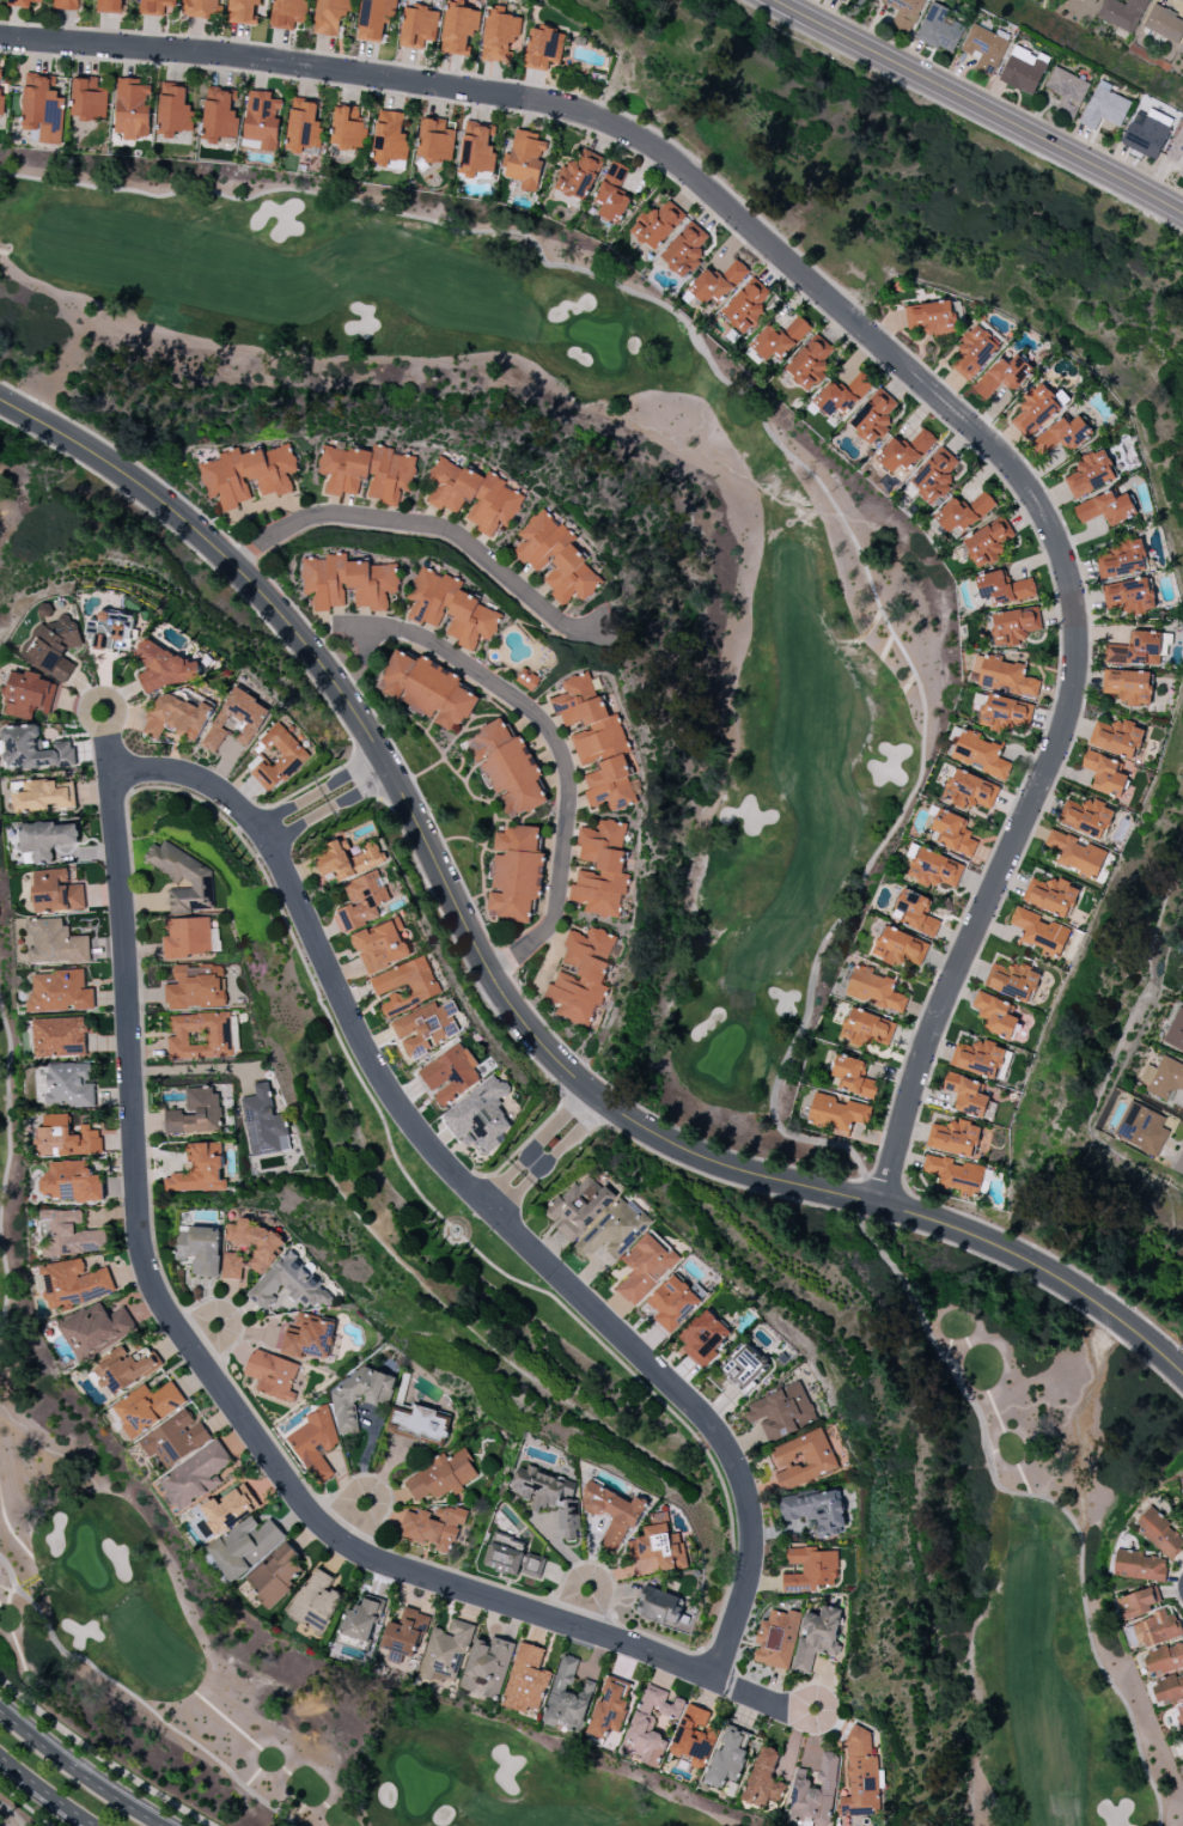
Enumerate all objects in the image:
building: (1094, 0)
building: (22, 2)
building: (66, 4)
building: (109, 6)
building: (158, 7)
building: (200, 7)
building: (243, 11)
building: (905, 11)
building: (288, 13)
building: (1122, 13)
building: (330, 16)
building: (374, 18)
building: (1164, 24)
building: (419, 25)
building: (458, 28)
building: (939, 29)
building: (500, 36)
building: (543, 48)
building: (1182, 53)
building: (1024, 69)
building: (1067, 91)
building: (1, 98)
building: (89, 98)
road: (980, 105)
building: (1105, 106)
building: (132, 108)
building: (43, 109)
building: (173, 110)
building: (219, 114)
building: (262, 118)
building: (303, 126)
building: (348, 128)
building: (1147, 133)
building: (389, 136)
building: (435, 140)
building: (476, 148)
building: (1177, 151)
building: (525, 159)
building: (579, 175)
building: (612, 194)
building: (657, 225)
building: (684, 249)
building: (718, 282)
building: (746, 305)
building: (932, 317)
building: (780, 339)
road: (878, 347)
building: (974, 352)
building: (810, 363)
building: (1004, 376)
building: (842, 394)
building: (1036, 410)
building: (876, 416)
building: (1062, 434)
building: (905, 451)
building: (270, 469)
building: (367, 473)
building: (1090, 474)
building: (937, 475)
building: (225, 480)
building: (474, 495)
building: (1106, 509)
building: (964, 512)
road: (428, 525)
building: (542, 541)
building: (988, 542)
building: (1122, 560)
building: (572, 577)
building: (325, 582)
building: (373, 584)
building: (1004, 588)
building: (1128, 595)
park: (846, 596)
building: (432, 597)
building: (472, 621)
building: (1013, 625)
building: (110, 632)
building: (54, 646)
road: (367, 646)
building: (1136, 650)
building: (160, 668)
building: (1004, 676)
building: (528, 678)
building: (1128, 686)
building: (427, 689)
building: (30, 694)
building: (1005, 713)
building: (176, 717)
building: (236, 719)
building: (589, 719)
building: (1117, 737)
road: (560, 747)
building: (32, 749)
building: (980, 755)
building: (276, 757)
building: (506, 767)
building: (1104, 774)
road: (354, 781)
building: (610, 784)
building: (970, 790)
building: (44, 796)
road: (293, 816)
building: (1086, 816)
building: (952, 833)
building: (47, 839)
building: (1075, 853)
building: (348, 862)
building: (602, 869)
building: (935, 869)
building: (514, 874)
building: (183, 877)
building: (56, 891)
building: (1050, 895)
building: (364, 900)
building: (916, 912)
building: (1039, 932)
building: (187, 937)
building: (55, 942)
building: (382, 945)
building: (900, 948)
park: (22, 973)
building: (583, 975)
building: (1013, 981)
building: (196, 987)
building: (422, 987)
building: (876, 990)
building: (59, 991)
road: (502, 996)
building: (995, 1015)
building: (425, 1028)
building: (867, 1028)
building: (1175, 1031)
building: (200, 1035)
building: (59, 1036)
building: (978, 1058)
road: (185, 1070)
building: (450, 1075)
building: (854, 1076)
building: (1163, 1078)
building: (69, 1084)
building: (969, 1095)
building: (196, 1113)
building: (836, 1113)
building: (480, 1116)
building: (263, 1122)
building: (1142, 1128)
road: (560, 1134)
building: (66, 1138)
building: (955, 1138)
building: (200, 1170)
building: (955, 1174)
building: (71, 1182)
road: (506, 1189)
road: (478, 1197)
building: (578, 1206)
building: (614, 1231)
building: (68, 1234)
building: (268, 1248)
building: (200, 1249)
building: (645, 1267)
building: (74, 1284)
building: (289, 1284)
building: (672, 1303)
building: (96, 1327)
building: (703, 1338)
building: (309, 1339)
building: (744, 1369)
building: (124, 1370)
building: (272, 1374)
road: (219, 1389)
building: (359, 1396)
building: (147, 1407)
building: (780, 1411)
building: (420, 1424)
building: (175, 1438)
building: (316, 1443)
building: (801, 1459)
building: (195, 1475)
building: (443, 1475)
road: (373, 1487)
building: (1182, 1489)
building: (549, 1496)
building: (225, 1510)
building: (813, 1511)
building: (612, 1512)
building: (434, 1528)
building: (1159, 1533)
building: (245, 1545)
building: (658, 1546)
building: (504, 1553)
building: (531, 1566)
building: (1140, 1566)
building: (810, 1569)
building: (275, 1575)
building: (316, 1601)
building: (1136, 1602)
road: (581, 1607)
building: (660, 1607)
building: (362, 1619)
building: (1155, 1629)
building: (405, 1633)
building: (817, 1637)
building: (776, 1638)
building: (445, 1654)
building: (1164, 1658)
building: (487, 1667)
building: (526, 1679)
building: (1167, 1688)
building: (567, 1697)
building: (609, 1710)
building: (1179, 1715)
building: (693, 1736)
building: (1182, 1736)
building: (727, 1759)
road: (78, 1772)
building: (861, 1775)
building: (763, 1778)
road: (47, 1791)
building: (816, 1792)
park: (22, 1810)

